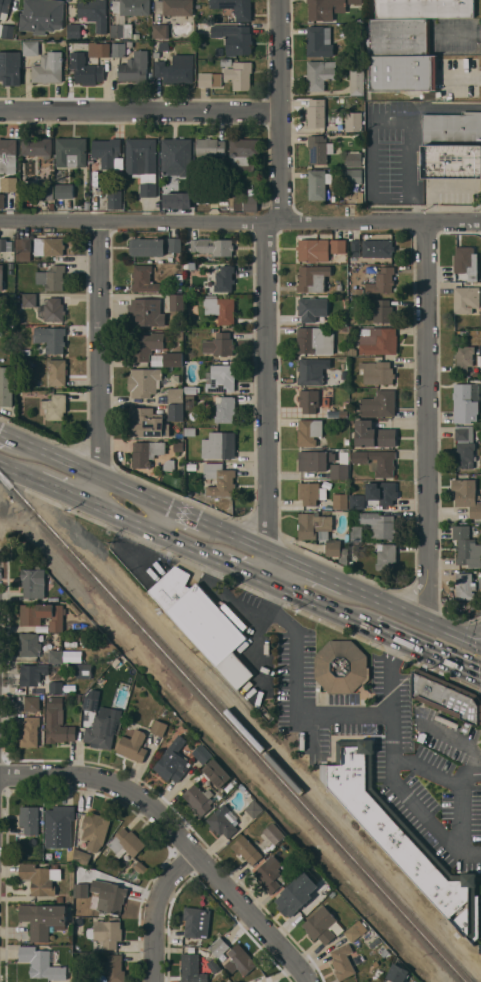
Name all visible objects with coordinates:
building: (354, 1)
building: (91, 7)
building: (131, 7)
building: (175, 7)
building: (235, 7)
building: (325, 8)
building: (424, 8)
building: (4, 9)
building: (42, 15)
building: (74, 30)
building: (121, 30)
building: (7, 31)
building: (160, 31)
building: (136, 36)
building: (399, 36)
road: (459, 36)
building: (234, 38)
building: (319, 41)
building: (164, 46)
building: (30, 48)
building: (98, 49)
building: (118, 50)
building: (156, 55)
building: (225, 62)
building: (10, 68)
building: (48, 68)
building: (134, 68)
building: (85, 69)
building: (176, 69)
building: (403, 72)
building: (320, 74)
building: (239, 75)
road: (463, 77)
building: (210, 80)
building: (357, 82)
road: (438, 107)
road: (141, 112)
building: (316, 113)
building: (353, 121)
building: (452, 129)
building: (37, 146)
building: (210, 147)
building: (319, 149)
building: (71, 152)
building: (243, 152)
building: (108, 153)
building: (7, 154)
building: (176, 156)
building: (354, 159)
building: (451, 161)
building: (142, 163)
building: (352, 176)
building: (9, 184)
building: (95, 184)
building: (318, 184)
building: (64, 191)
building: (44, 192)
building: (187, 193)
building: (103, 194)
road: (371, 196)
building: (115, 199)
building: (175, 200)
building: (1, 201)
building: (243, 201)
building: (86, 206)
road: (240, 221)
building: (5, 245)
building: (174, 245)
building: (49, 246)
building: (212, 246)
building: (338, 246)
building: (147, 247)
building: (355, 248)
building: (377, 248)
building: (23, 249)
building: (313, 250)
building: (465, 260)
building: (1, 277)
building: (52, 278)
building: (312, 278)
building: (143, 279)
building: (224, 279)
building: (381, 281)
road: (266, 288)
building: (29, 300)
building: (466, 300)
building: (176, 302)
building: (312, 308)
building: (3, 309)
building: (53, 309)
building: (221, 309)
building: (145, 312)
building: (383, 312)
building: (180, 336)
building: (50, 338)
building: (314, 340)
building: (378, 340)
building: (219, 344)
building: (144, 345)
building: (353, 351)
building: (464, 358)
building: (172, 359)
road: (97, 361)
building: (157, 361)
building: (479, 361)
building: (57, 372)
building: (311, 372)
building: (377, 372)
building: (344, 375)
building: (221, 378)
building: (175, 379)
building: (144, 382)
building: (6, 388)
building: (190, 390)
building: (175, 395)
building: (309, 400)
building: (378, 404)
building: (464, 404)
building: (55, 407)
building: (224, 408)
building: (175, 411)
building: (345, 413)
building: (333, 415)
building: (146, 422)
road: (429, 423)
building: (190, 432)
building: (308, 432)
building: (373, 435)
building: (179, 436)
road: (18, 442)
building: (219, 445)
building: (464, 447)
building: (146, 452)
building: (179, 454)
building: (344, 457)
building: (314, 460)
building: (377, 461)
building: (233, 464)
building: (169, 465)
building: (192, 466)
road: (20, 469)
building: (179, 470)
building: (339, 471)
road: (102, 478)
building: (219, 479)
road: (66, 490)
building: (310, 492)
building: (387, 494)
building: (466, 495)
building: (340, 501)
building: (356, 501)
road: (124, 517)
building: (313, 524)
building: (378, 525)
road: (218, 527)
building: (356, 533)
road: (156, 534)
building: (324, 535)
road: (173, 540)
building: (466, 547)
building: (336, 550)
road: (204, 553)
building: (384, 556)
road: (307, 567)
road: (243, 570)
building: (33, 583)
building: (464, 586)
road: (300, 595)
building: (43, 615)
road: (412, 615)
road: (349, 617)
building: (203, 623)
building: (29, 644)
road: (424, 652)
building: (56, 656)
building: (343, 667)
building: (80, 671)
building: (32, 673)
building: (56, 687)
building: (447, 698)
building: (32, 703)
building: (90, 703)
building: (57, 722)
road: (309, 724)
building: (159, 728)
railway: (233, 728)
building: (29, 732)
building: (100, 732)
parking lot: (387, 741)
building: (132, 744)
railway: (264, 748)
building: (202, 753)
building: (173, 761)
building: (216, 773)
road: (466, 774)
road: (451, 782)
building: (198, 798)
road: (415, 807)
building: (254, 809)
building: (29, 819)
building: (222, 822)
building: (58, 826)
building: (94, 830)
road: (180, 833)
building: (274, 833)
building: (402, 835)
building: (126, 842)
building: (246, 850)
building: (81, 857)
building: (269, 874)
building: (40, 878)
building: (296, 895)
building: (111, 897)
road: (157, 909)
building: (43, 920)
building: (196, 921)
building: (322, 923)
building: (354, 931)
building: (107, 933)
building: (219, 947)
building: (241, 959)
building: (342, 961)
building: (41, 963)
building: (114, 968)
building: (191, 969)
building: (397, 973)

